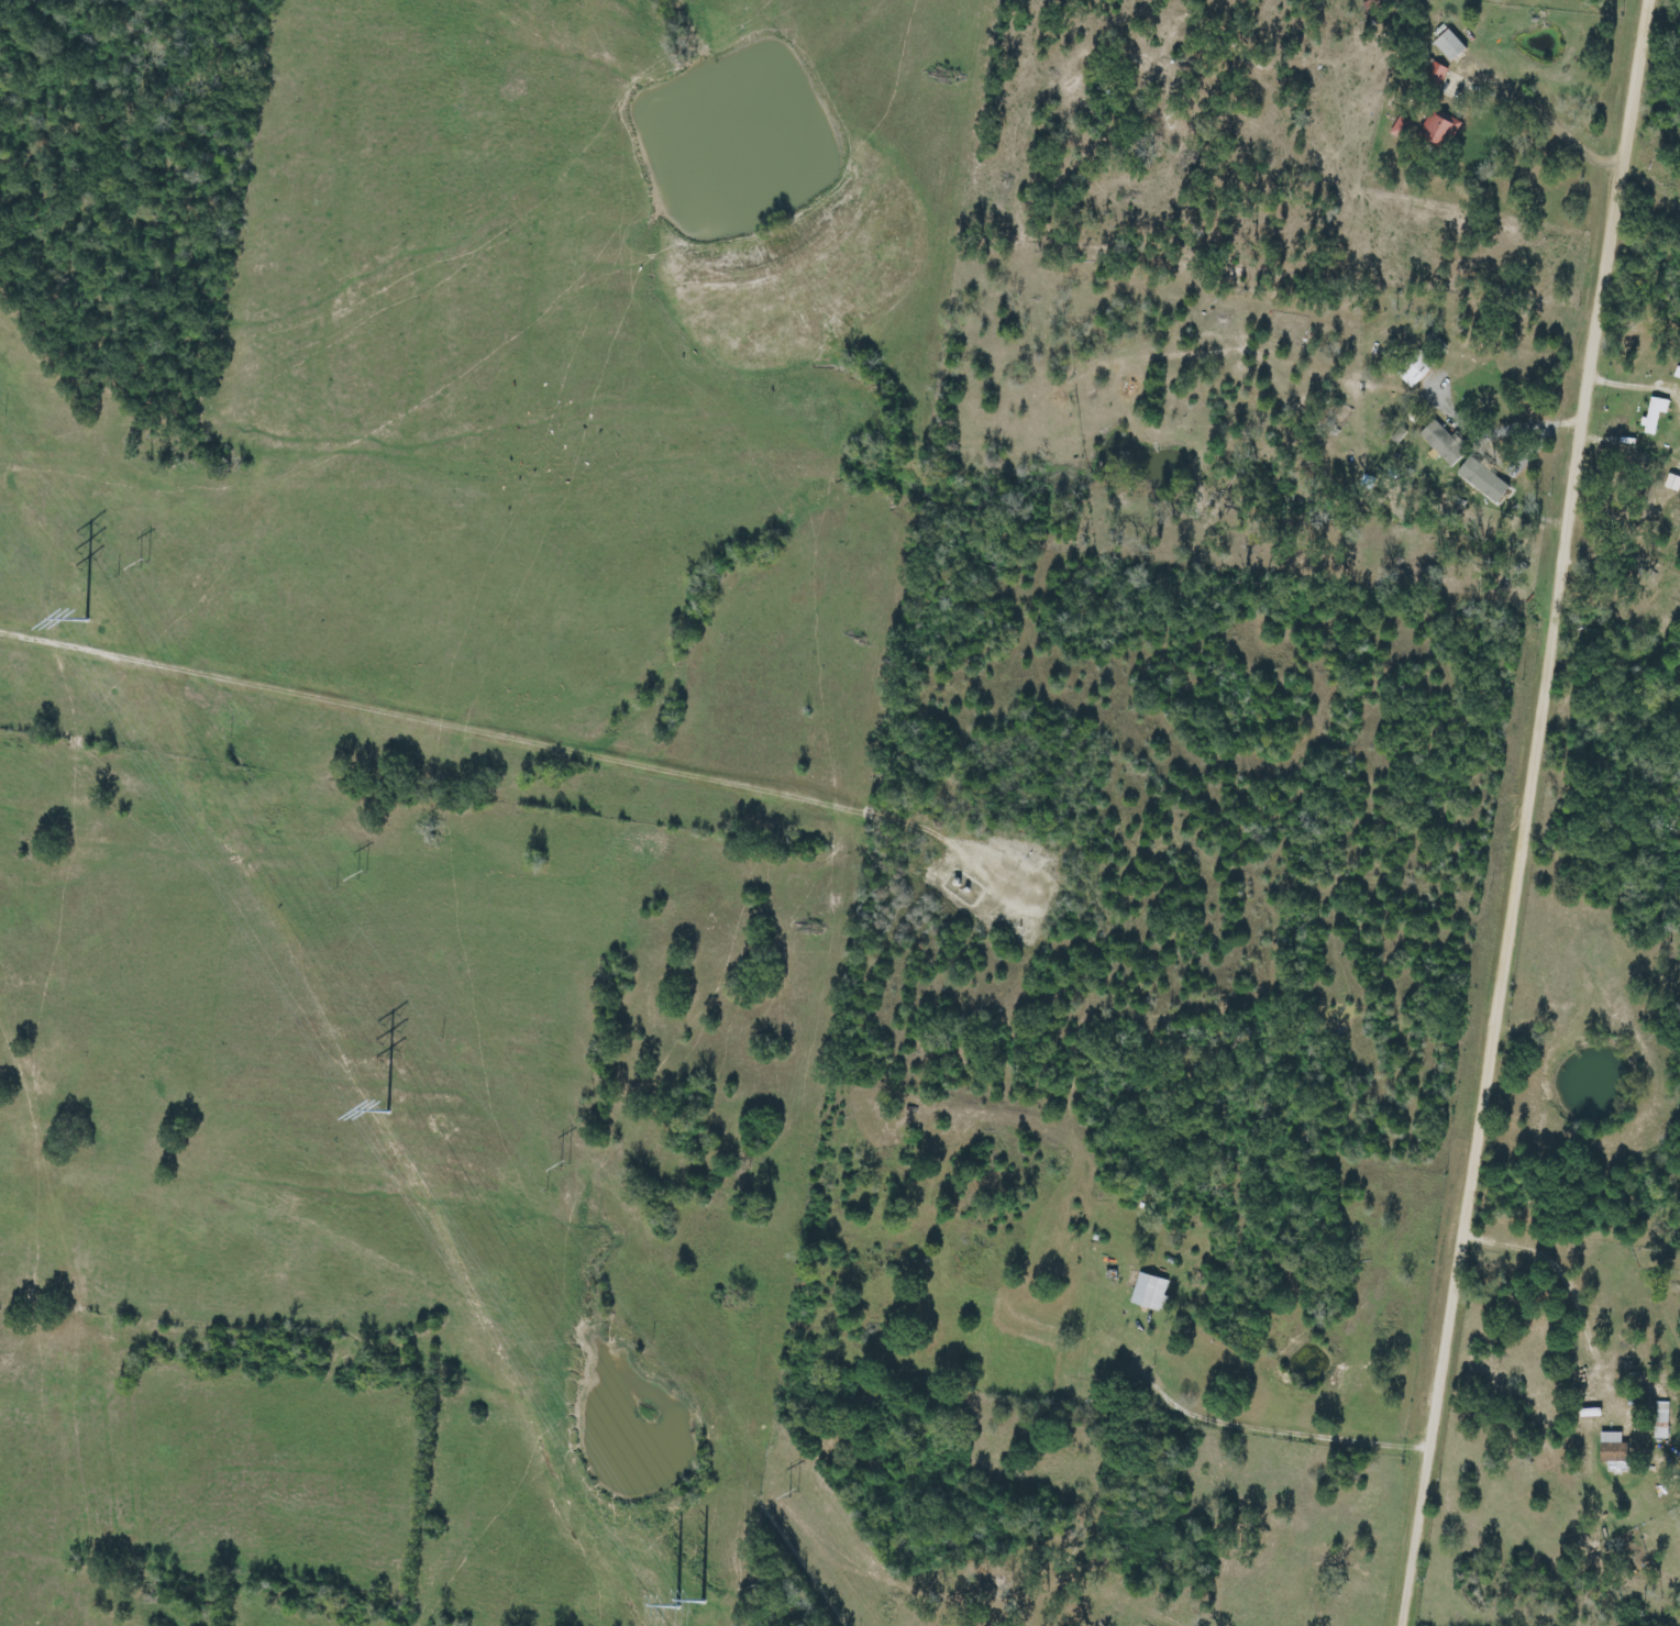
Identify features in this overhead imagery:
building: (1448, 45)
building: (1436, 74)
building: (1438, 128)
building: (1415, 368)
building: (1653, 414)
building: (1441, 442)
building: (1481, 478)
building: (1672, 483)
power tower: (147, 560)
power tower: (84, 612)
road: (1529, 812)
power tower: (361, 875)
power tower: (388, 1103)
power tower: (560, 1165)
building: (1150, 1292)
building: (1660, 1420)
building: (1612, 1452)
power tower: (791, 1494)
power tower: (688, 1594)

